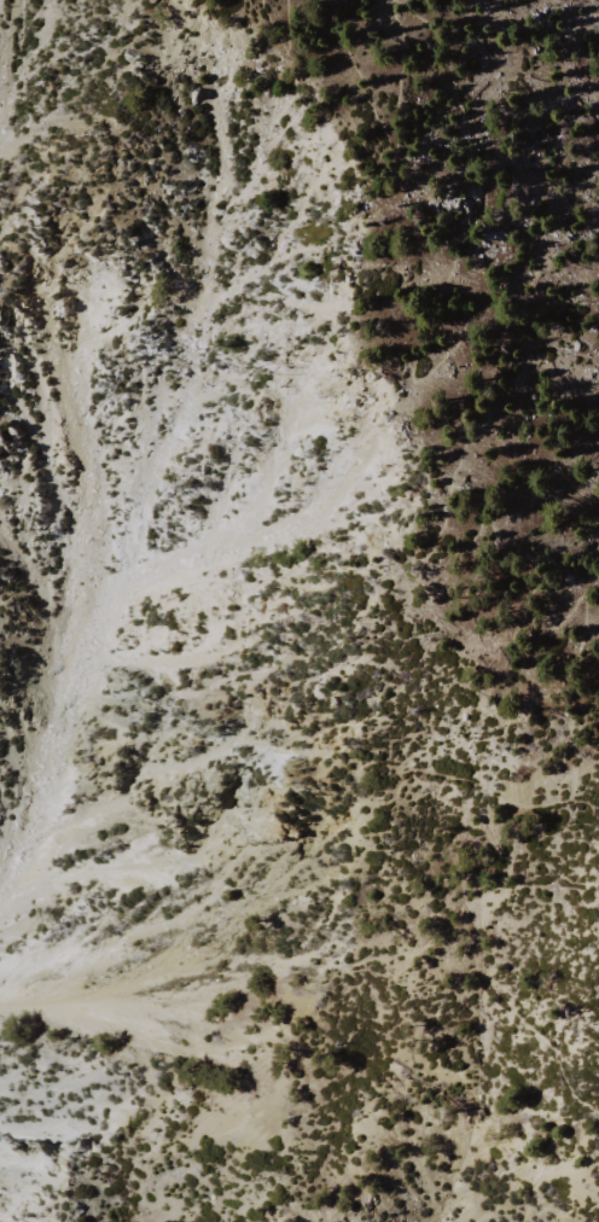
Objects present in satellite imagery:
road: (287, 36)
road: (390, 126)
road: (441, 520)
road: (378, 976)

